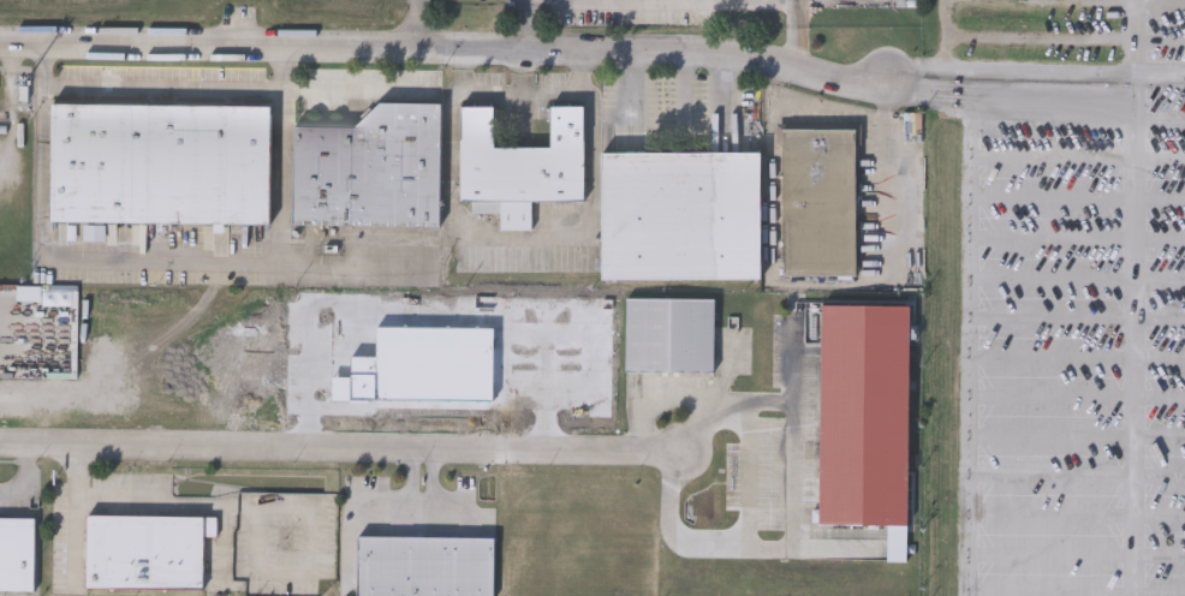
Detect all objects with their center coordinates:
road: (525, 5)
road: (796, 10)
road: (416, 22)
road: (528, 28)
road: (1139, 36)
road: (797, 41)
road: (460, 46)
road: (887, 59)
road: (520, 68)
road: (1031, 68)
road: (1162, 72)
road: (163, 87)
road: (636, 87)
road: (355, 88)
road: (681, 88)
road: (730, 89)
road: (520, 91)
road: (1026, 99)
road: (841, 117)
building: (159, 162)
building: (518, 165)
building: (368, 168)
building: (817, 201)
building: (678, 214)
road: (157, 254)
road: (337, 264)
parking lot: (1067, 296)
road: (955, 298)
road: (449, 309)
road: (1139, 334)
building: (667, 336)
road: (792, 360)
road: (728, 365)
road: (668, 399)
building: (862, 415)
road: (334, 439)
road: (26, 471)
road: (748, 476)
road: (186, 503)
road: (75, 505)
road: (792, 511)
building: (145, 552)
building: (17, 554)
building: (424, 566)

